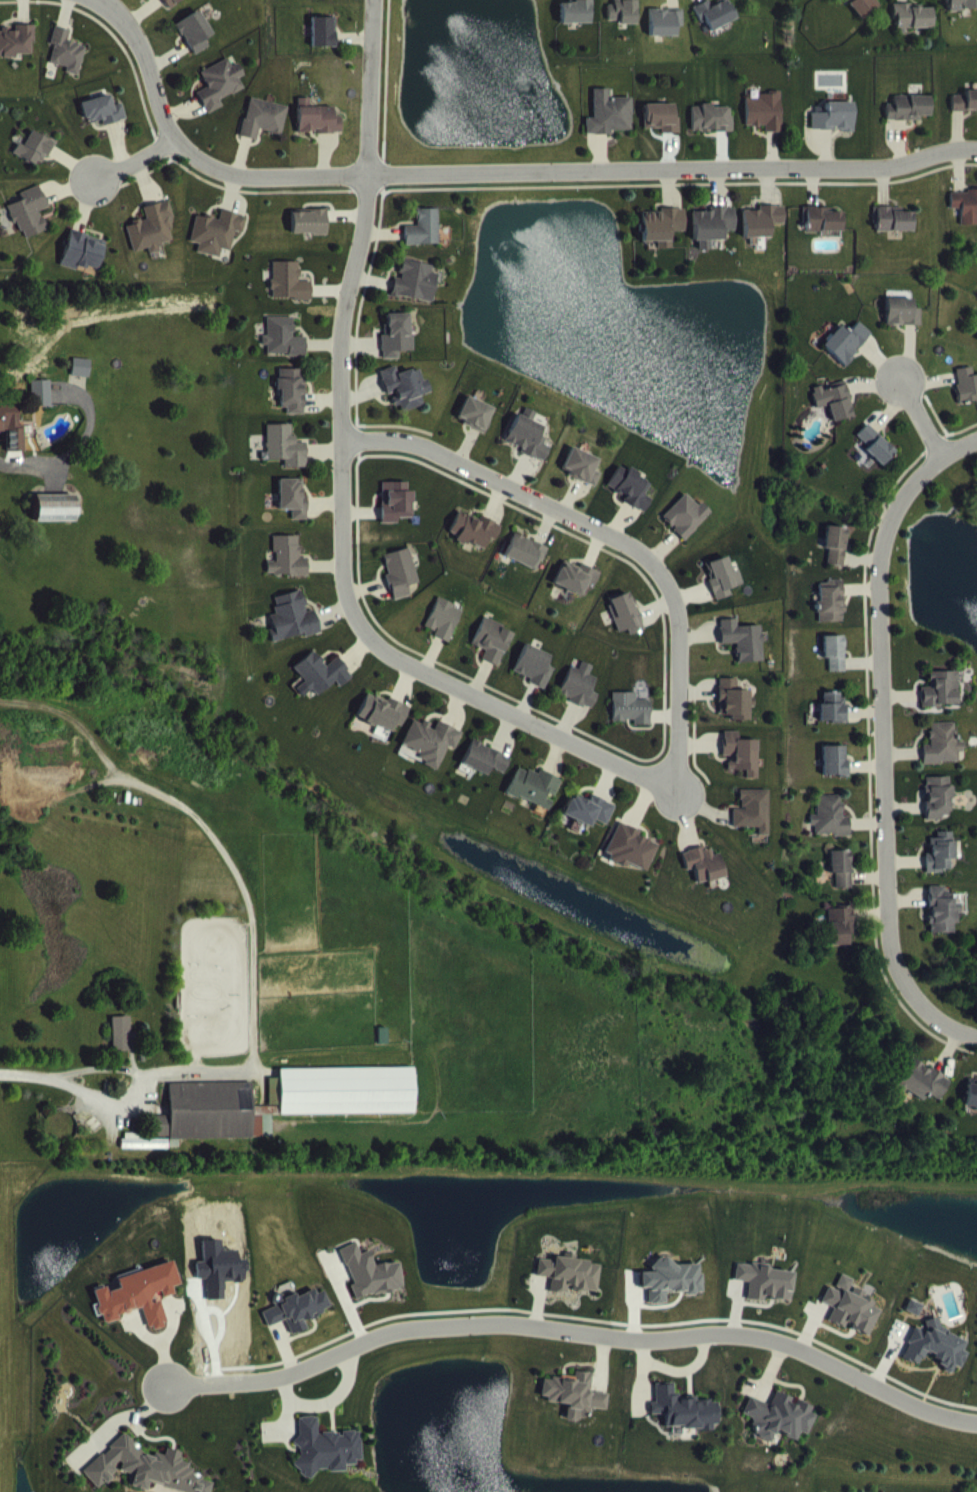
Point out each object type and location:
building: (322, 5)
building: (168, 9)
building: (859, 13)
building: (961, 13)
building: (624, 24)
building: (578, 25)
building: (715, 28)
building: (913, 31)
building: (665, 36)
building: (195, 46)
building: (324, 46)
building: (16, 55)
building: (67, 66)
building: (220, 98)
building: (965, 116)
building: (909, 122)
building: (103, 125)
building: (765, 126)
building: (610, 128)
building: (662, 132)
building: (834, 132)
building: (264, 133)
building: (712, 133)
building: (319, 134)
road: (136, 159)
building: (34, 163)
road: (491, 174)
building: (965, 220)
building: (30, 227)
building: (894, 234)
building: (762, 235)
building: (309, 237)
building: (712, 239)
building: (661, 240)
building: (425, 243)
building: (152, 244)
building: (217, 247)
building: (82, 266)
building: (416, 296)
building: (289, 297)
building: (902, 327)
building: (397, 351)
building: (283, 352)
building: (847, 356)
building: (76, 365)
building: (81, 382)
road: (75, 383)
building: (36, 390)
building: (967, 399)
building: (405, 401)
building: (292, 404)
building: (41, 408)
building: (834, 415)
road: (920, 416)
building: (6, 418)
building: (475, 428)
building: (9, 433)
road: (78, 441)
building: (527, 452)
building: (876, 459)
building: (285, 461)
road: (48, 475)
building: (581, 481)
road: (343, 494)
building: (631, 502)
building: (50, 506)
building: (294, 512)
building: (397, 516)
building: (55, 522)
building: (686, 530)
road: (610, 536)
building: (474, 544)
building: (837, 559)
building: (526, 566)
building: (288, 572)
building: (401, 587)
building: (575, 591)
building: (723, 592)
building: (831, 616)
building: (625, 628)
building: (293, 632)
building: (444, 634)
building: (743, 654)
building: (492, 655)
building: (835, 666)
building: (534, 680)
building: (320, 688)
building: (580, 700)
building: (942, 704)
building: (734, 714)
building: (833, 721)
building: (631, 723)
building: (383, 727)
road: (884, 739)
building: (431, 755)
building: (943, 759)
building: (741, 768)
building: (484, 773)
building: (835, 775)
building: (534, 801)
building: (939, 812)
building: (589, 824)
building: (753, 825)
road: (204, 826)
building: (831, 831)
building: (631, 862)
building: (941, 867)
building: (703, 879)
building: (842, 882)
building: (942, 925)
building: (840, 939)
building: (122, 1048)
road: (127, 1088)
building: (923, 1095)
building: (971, 1108)
building: (282, 1116)
building: (146, 1157)
building: (369, 1288)
building: (569, 1289)
building: (671, 1294)
building: (763, 1296)
building: (139, 1310)
building: (296, 1324)
building: (850, 1324)
road: (575, 1331)
building: (934, 1360)
building: (575, 1409)
building: (683, 1424)
building: (780, 1431)
building: (325, 1462)
building: (139, 1477)

